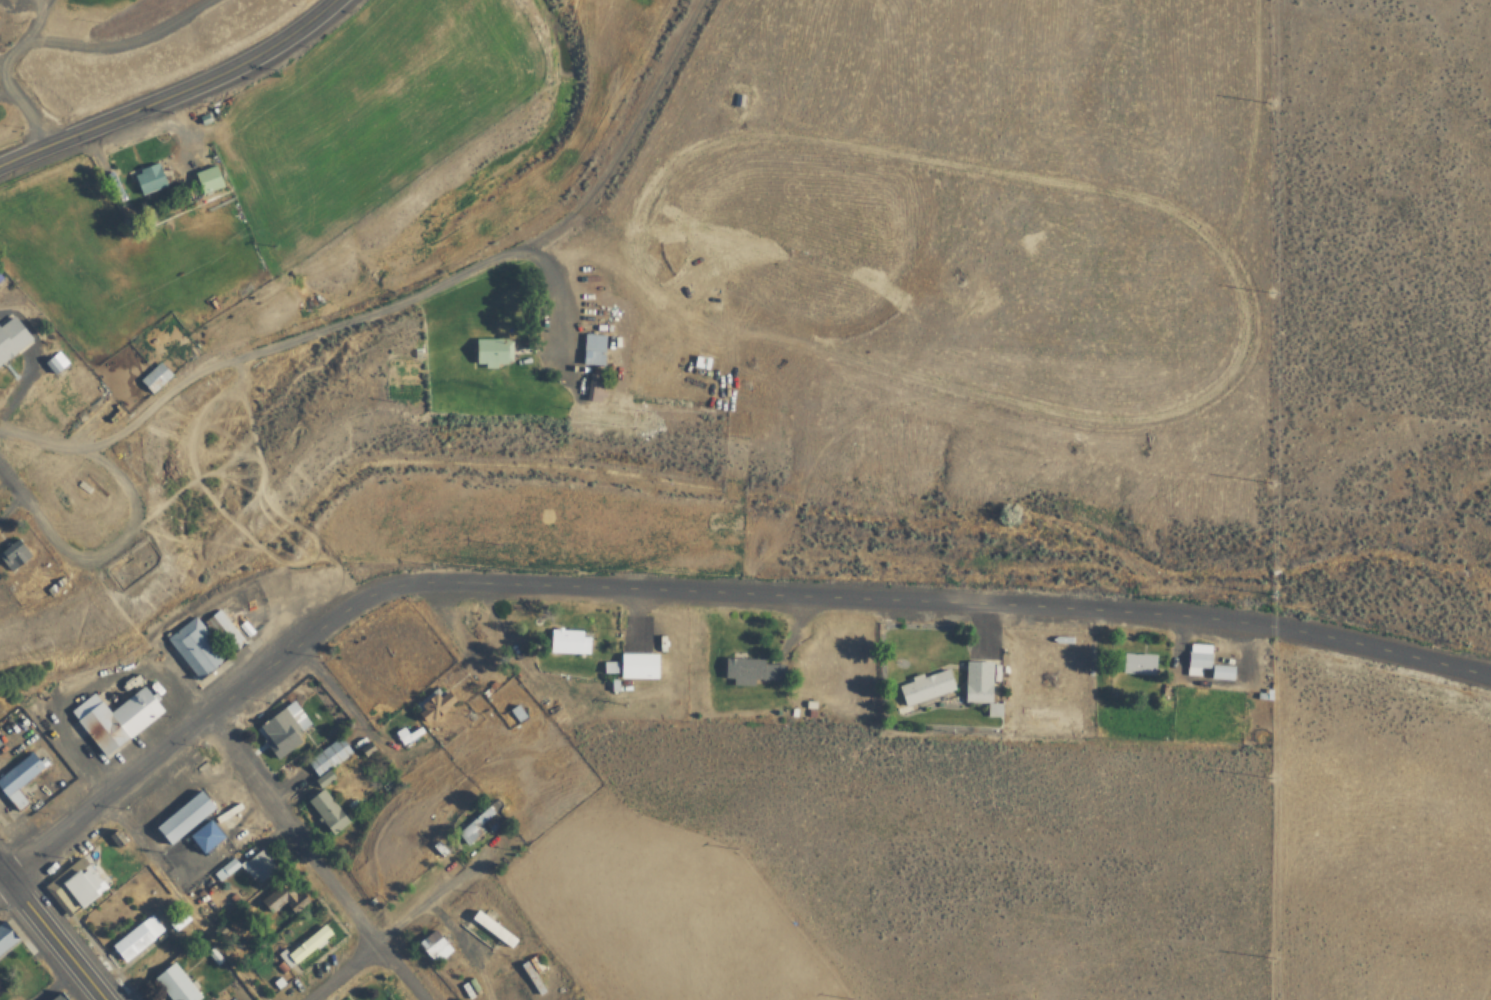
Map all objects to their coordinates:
road: (195, 82)
road: (23, 108)
road: (23, 152)
building: (152, 181)
building: (209, 181)
building: (0, 286)
building: (13, 339)
building: (596, 349)
building: (498, 351)
building: (165, 371)
building: (598, 386)
road: (4, 471)
building: (17, 555)
road: (702, 590)
building: (571, 642)
road: (1366, 645)
building: (197, 650)
building: (1199, 664)
building: (1133, 665)
building: (640, 666)
building: (753, 671)
building: (974, 683)
building: (920, 688)
building: (438, 706)
building: (517, 713)
building: (118, 719)
building: (285, 726)
building: (328, 756)
building: (21, 779)
road: (102, 795)
building: (328, 811)
building: (187, 817)
building: (482, 821)
building: (208, 837)
road: (311, 857)
building: (259, 868)
road: (2, 871)
building: (72, 888)
building: (278, 900)
building: (493, 930)
road: (55, 937)
building: (9, 938)
building: (138, 939)
building: (434, 944)
building: (307, 947)
road: (343, 972)
building: (531, 975)
building: (176, 985)
building: (63, 997)

